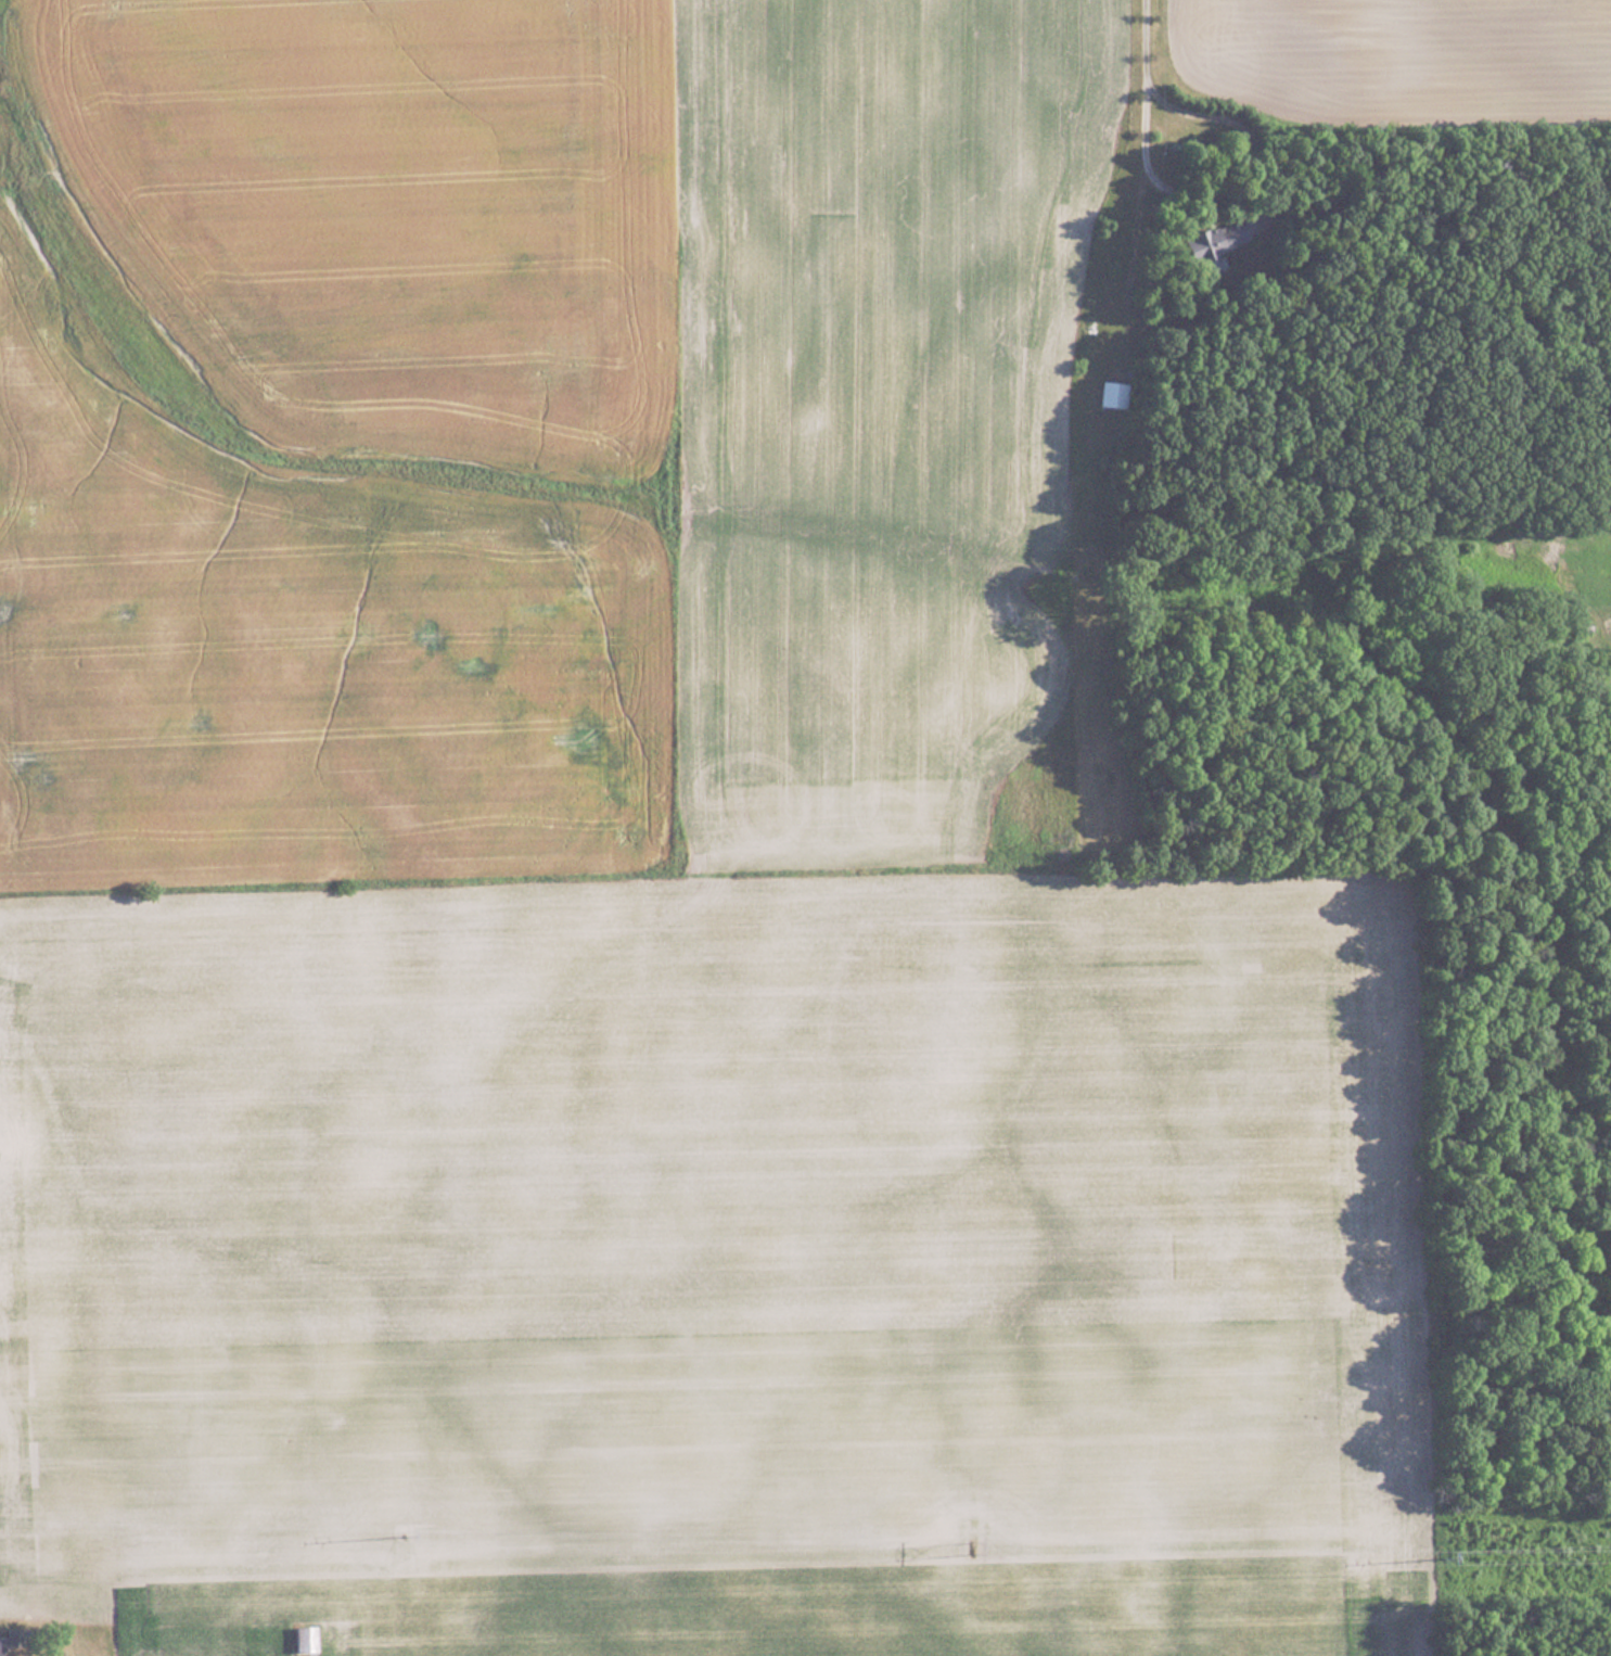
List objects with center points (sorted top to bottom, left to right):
road: (1138, 97)
building: (1214, 240)
power tower: (399, 1533)
power tower: (972, 1550)
power tower: (1444, 1554)
building: (309, 1638)
building: (1, 1646)

